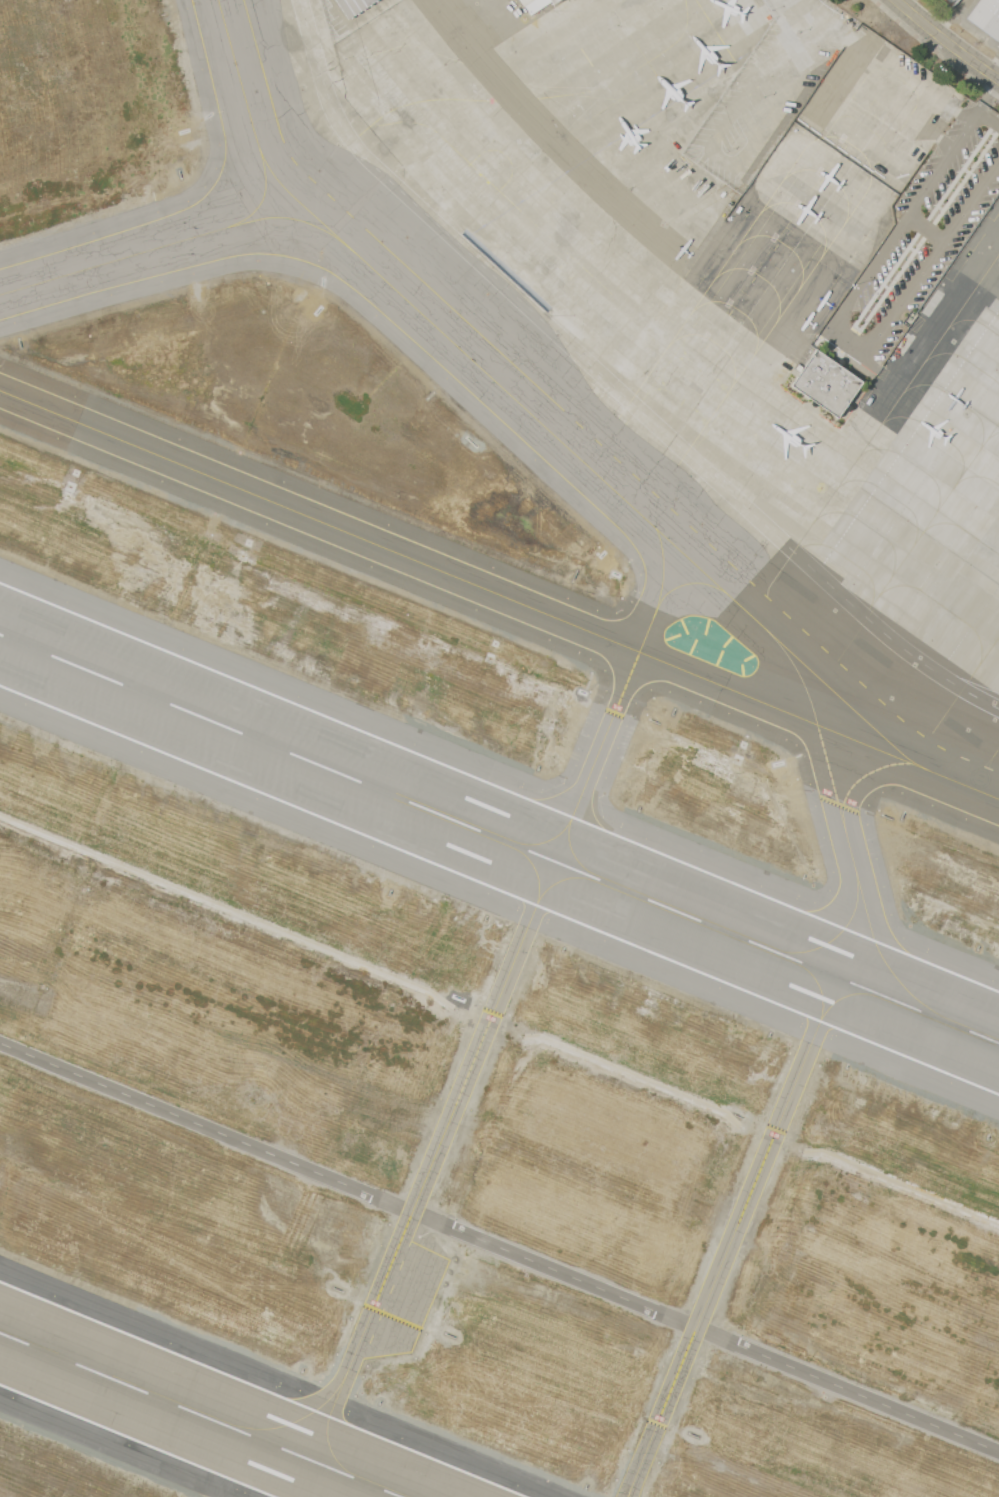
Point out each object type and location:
building: (552, 1)
building: (525, 2)
building: (949, 2)
building: (535, 5)
building: (353, 6)
building: (986, 16)
road: (947, 40)
road: (989, 96)
airport taxiway: (265, 187)
airport taxiway: (285, 218)
airport taxiway: (119, 259)
airport apron: (710, 282)
road: (837, 324)
building: (826, 378)
airport taxiway: (526, 408)
airport taxiway: (662, 565)
airport taxiway: (686, 585)
airport taxiway: (499, 595)
airport: (499, 748)
helipad: (982, 778)
airport taxiway: (862, 781)
airport runway: (499, 839)
airport taxiway: (549, 839)
airport taxiway: (571, 847)
airport taxiway: (534, 872)
airport taxiway: (557, 882)
airport taxiway: (836, 935)
airport taxiway: (884, 959)
airport taxiway: (819, 991)
airport taxiway: (500, 992)
airport taxiway: (843, 997)
airport taxiway: (804, 1066)
road: (497, 1248)
airport runway: (200, 1415)
airport taxiway: (296, 1420)
airport taxiway: (328, 1430)

